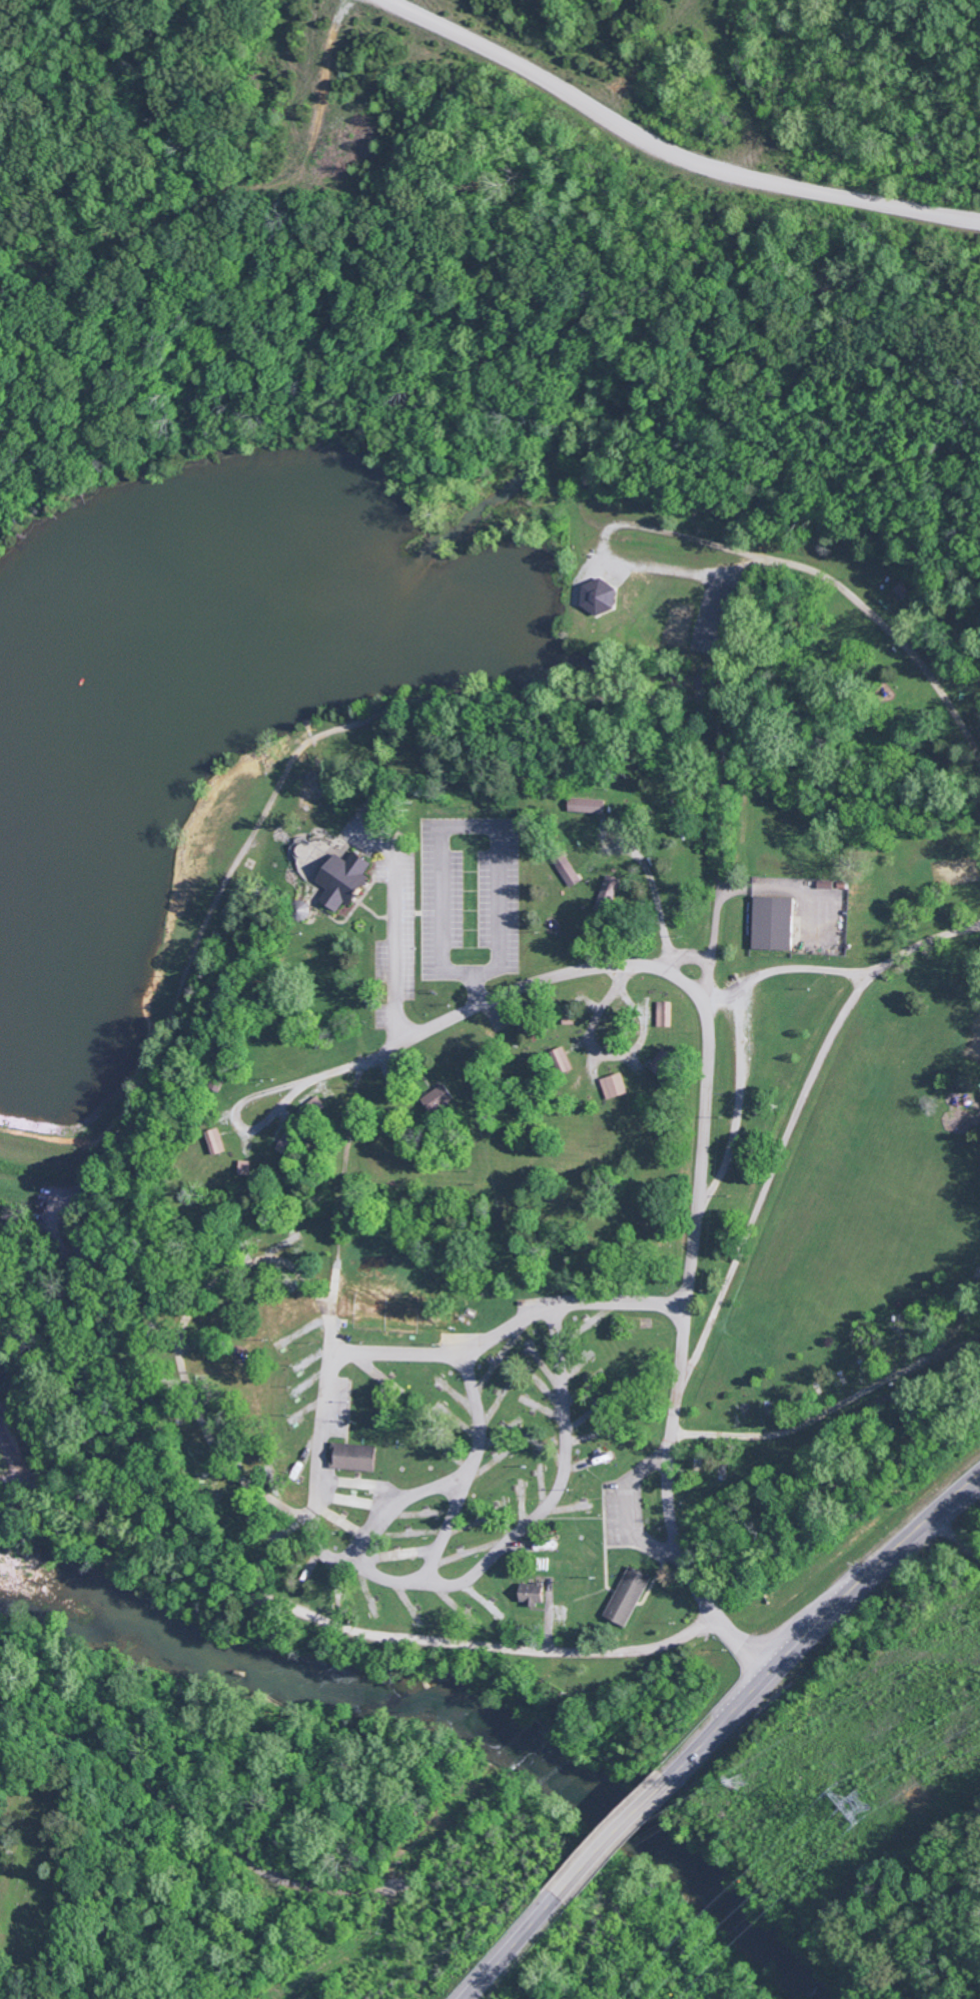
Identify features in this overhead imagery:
road: (667, 150)
road: (604, 543)
building: (600, 597)
road: (890, 631)
building: (588, 804)
road: (487, 825)
building: (344, 878)
road: (652, 890)
parking lot: (470, 898)
road: (717, 917)
road: (396, 918)
building: (775, 922)
road: (706, 958)
road: (843, 970)
building: (666, 1012)
building: (562, 1059)
building: (663, 1060)
building: (615, 1084)
building: (439, 1097)
road: (245, 1099)
road: (741, 1099)
road: (704, 1137)
building: (216, 1140)
road: (773, 1170)
road: (334, 1291)
road: (509, 1326)
road: (831, 1406)
building: (356, 1456)
road: (471, 1469)
road: (240, 1477)
road: (957, 1493)
road: (399, 1501)
road: (632, 1509)
road: (343, 1521)
road: (955, 1536)
building: (628, 1595)
road: (796, 1640)
road: (486, 1644)
river: (447, 1717)
power tower: (739, 1776)
power tower: (856, 1802)
road: (127, 1829)
road: (614, 1837)
park: (36, 1874)
road: (514, 1947)

